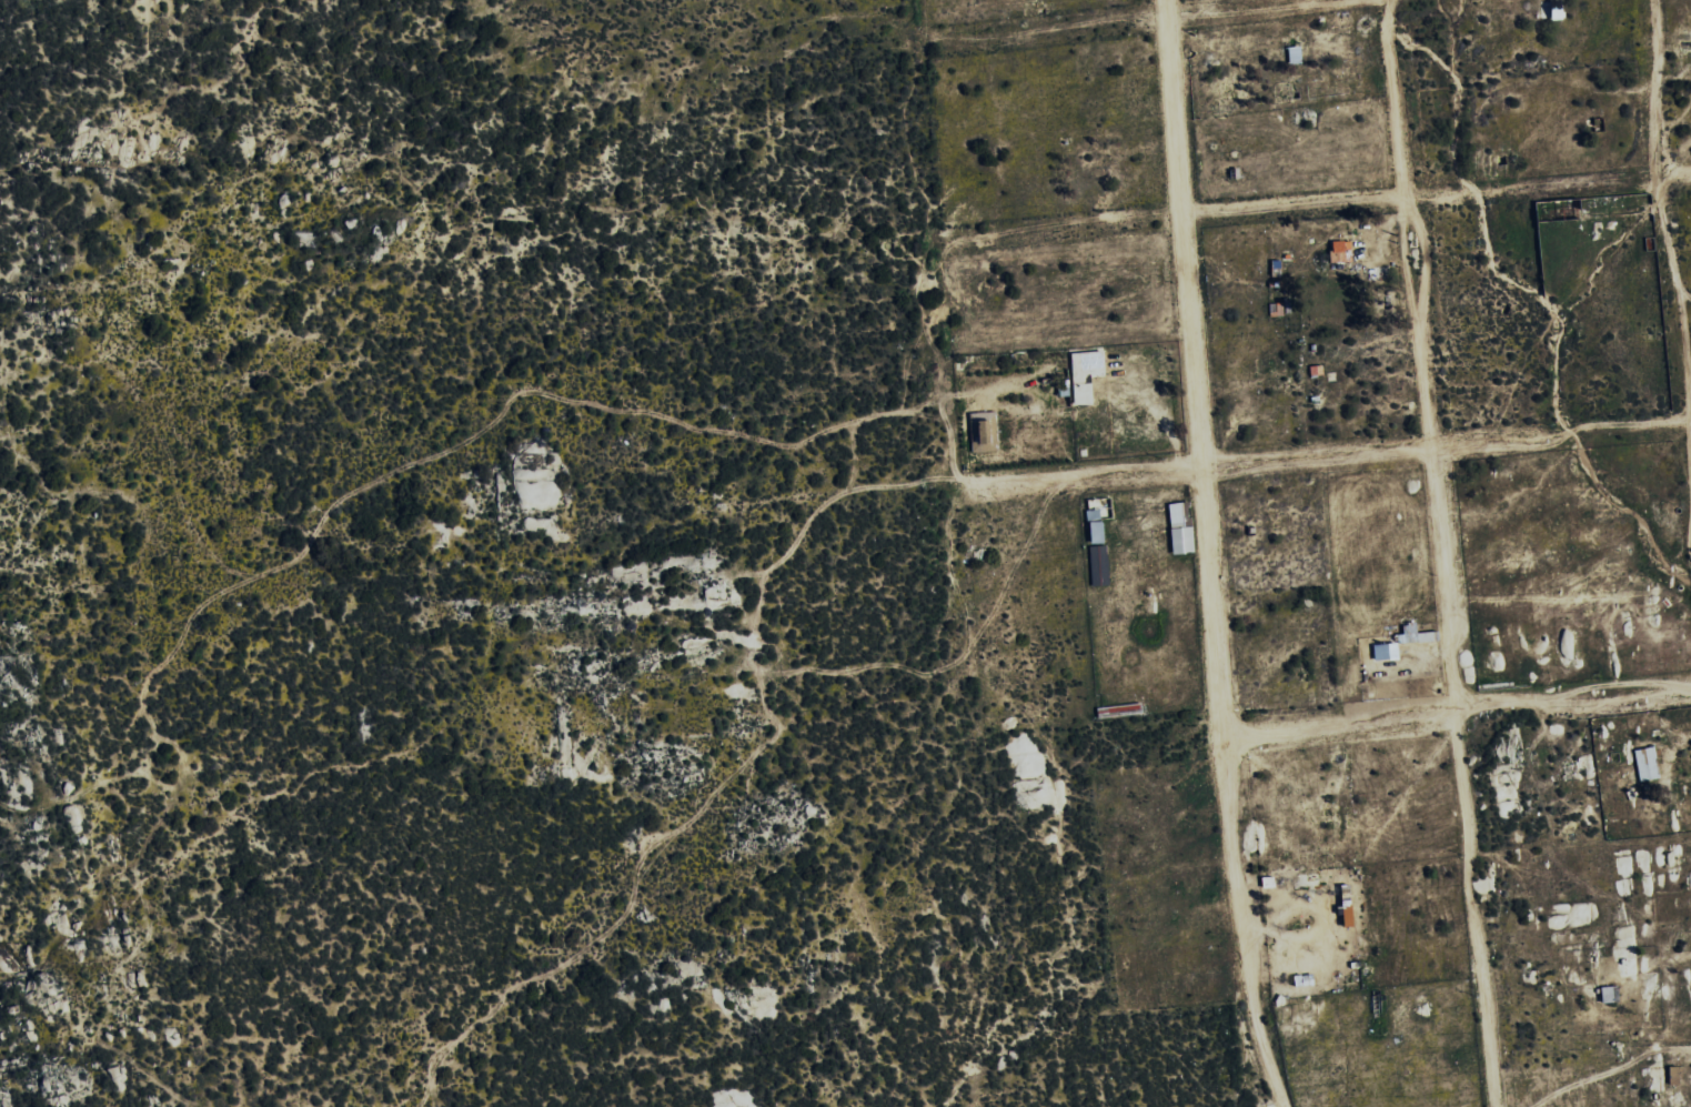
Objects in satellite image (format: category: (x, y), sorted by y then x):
road: (1667, 254)
road: (1209, 555)

